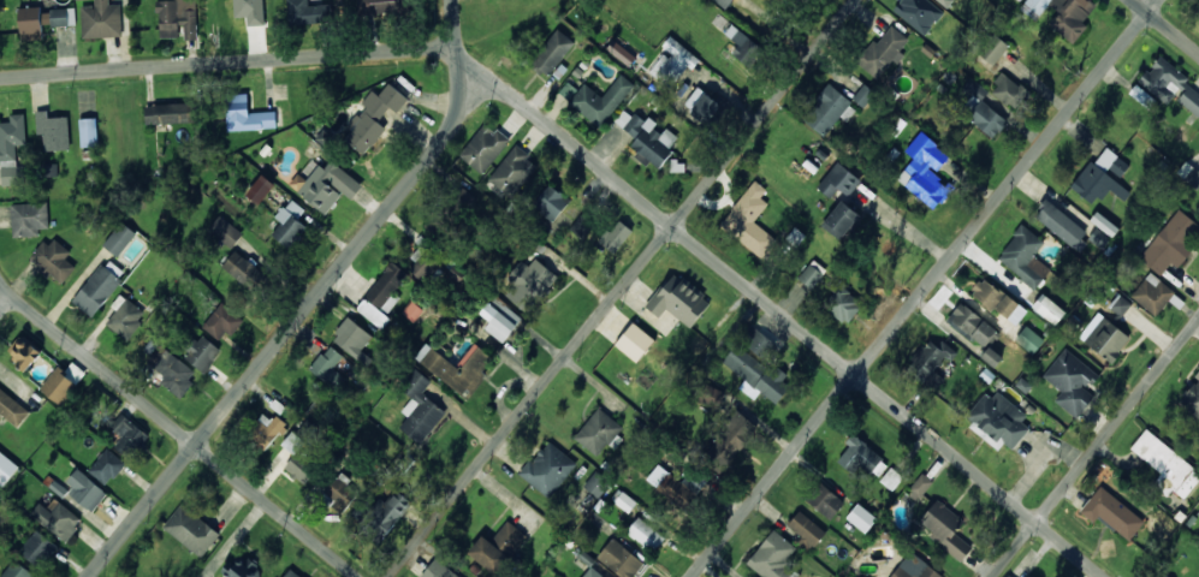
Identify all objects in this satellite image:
building: (380, 6)
building: (250, 11)
building: (305, 12)
building: (1062, 14)
building: (177, 18)
building: (101, 19)
building: (42, 20)
road: (1165, 26)
building: (743, 44)
building: (995, 49)
building: (552, 52)
building: (883, 52)
building: (621, 53)
road: (226, 60)
building: (671, 63)
building: (1164, 87)
building: (975, 88)
building: (568, 90)
building: (1008, 90)
building: (863, 95)
building: (600, 100)
building: (701, 105)
building: (829, 111)
building: (171, 113)
building: (247, 114)
building: (373, 117)
building: (987, 118)
building: (53, 131)
building: (88, 131)
building: (649, 139)
building: (12, 148)
building: (483, 148)
building: (925, 171)
building: (512, 172)
building: (1189, 173)
building: (1103, 177)
building: (838, 180)
building: (326, 185)
building: (261, 189)
building: (551, 202)
building: (29, 219)
building: (841, 220)
building: (749, 221)
building: (289, 222)
building: (1104, 224)
building: (1061, 225)
building: (582, 227)
building: (225, 231)
building: (616, 236)
building: (119, 238)
building: (1171, 242)
building: (1025, 256)
building: (54, 260)
building: (423, 262)
building: (242, 268)
building: (812, 273)
building: (530, 284)
road: (619, 287)
building: (97, 288)
road: (921, 288)
building: (986, 293)
building: (1152, 293)
building: (381, 297)
road: (760, 297)
building: (841, 302)
road: (6, 303)
building: (678, 303)
building: (1120, 304)
building: (1010, 309)
building: (1049, 309)
building: (125, 316)
building: (500, 319)
building: (221, 322)
building: (971, 323)
road: (290, 327)
building: (1029, 339)
building: (1106, 339)
building: (354, 340)
building: (635, 341)
building: (758, 341)
building: (24, 351)
building: (201, 352)
building: (991, 356)
building: (930, 362)
building: (331, 367)
building: (456, 367)
building: (168, 371)
building: (755, 371)
building: (1072, 381)
building: (59, 383)
building: (1192, 397)
building: (419, 408)
building: (12, 409)
building: (998, 420)
road: (173, 427)
building: (266, 430)
building: (598, 430)
building: (129, 436)
building: (731, 438)
building: (292, 442)
road: (1093, 447)
building: (861, 457)
building: (1165, 462)
building: (107, 466)
building: (301, 468)
building: (6, 469)
building: (548, 469)
building: (891, 478)
building: (673, 487)
building: (918, 489)
building: (85, 490)
building: (825, 500)
building: (1108, 511)
building: (381, 516)
building: (861, 517)
building: (57, 518)
building: (945, 529)
building: (191, 530)
building: (806, 530)
building: (646, 534)
building: (498, 547)
building: (38, 548)
building: (772, 557)
building: (621, 559)
building: (914, 567)
building: (243, 569)
building: (438, 570)
building: (18, 571)
building: (292, 573)
building: (592, 573)
building: (1029, 575)
building: (1165, 576)

